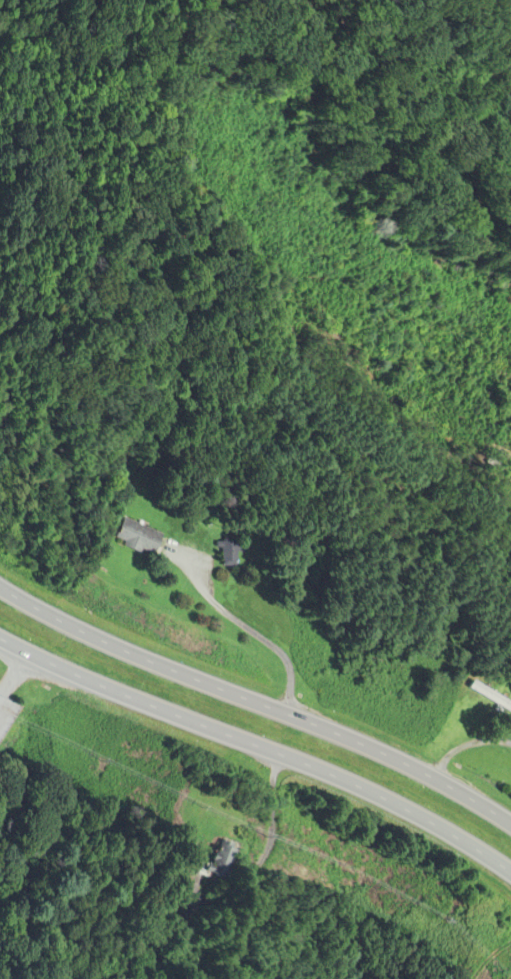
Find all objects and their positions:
building: (144, 537)
building: (234, 553)
road: (248, 627)
building: (504, 688)
road: (257, 701)
road: (260, 745)
road: (464, 745)
building: (224, 859)

